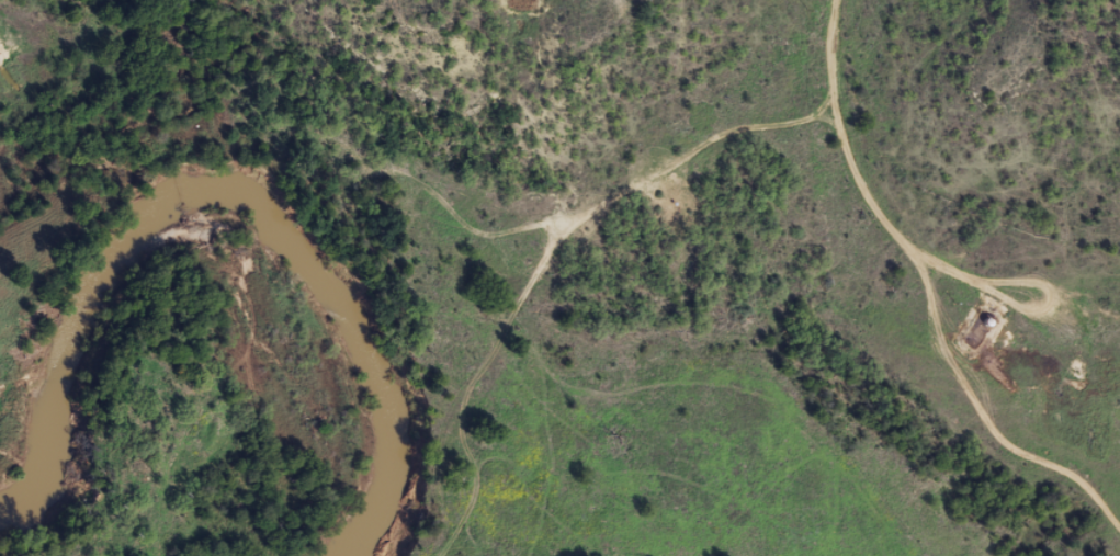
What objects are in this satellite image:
road: (882, 246)

